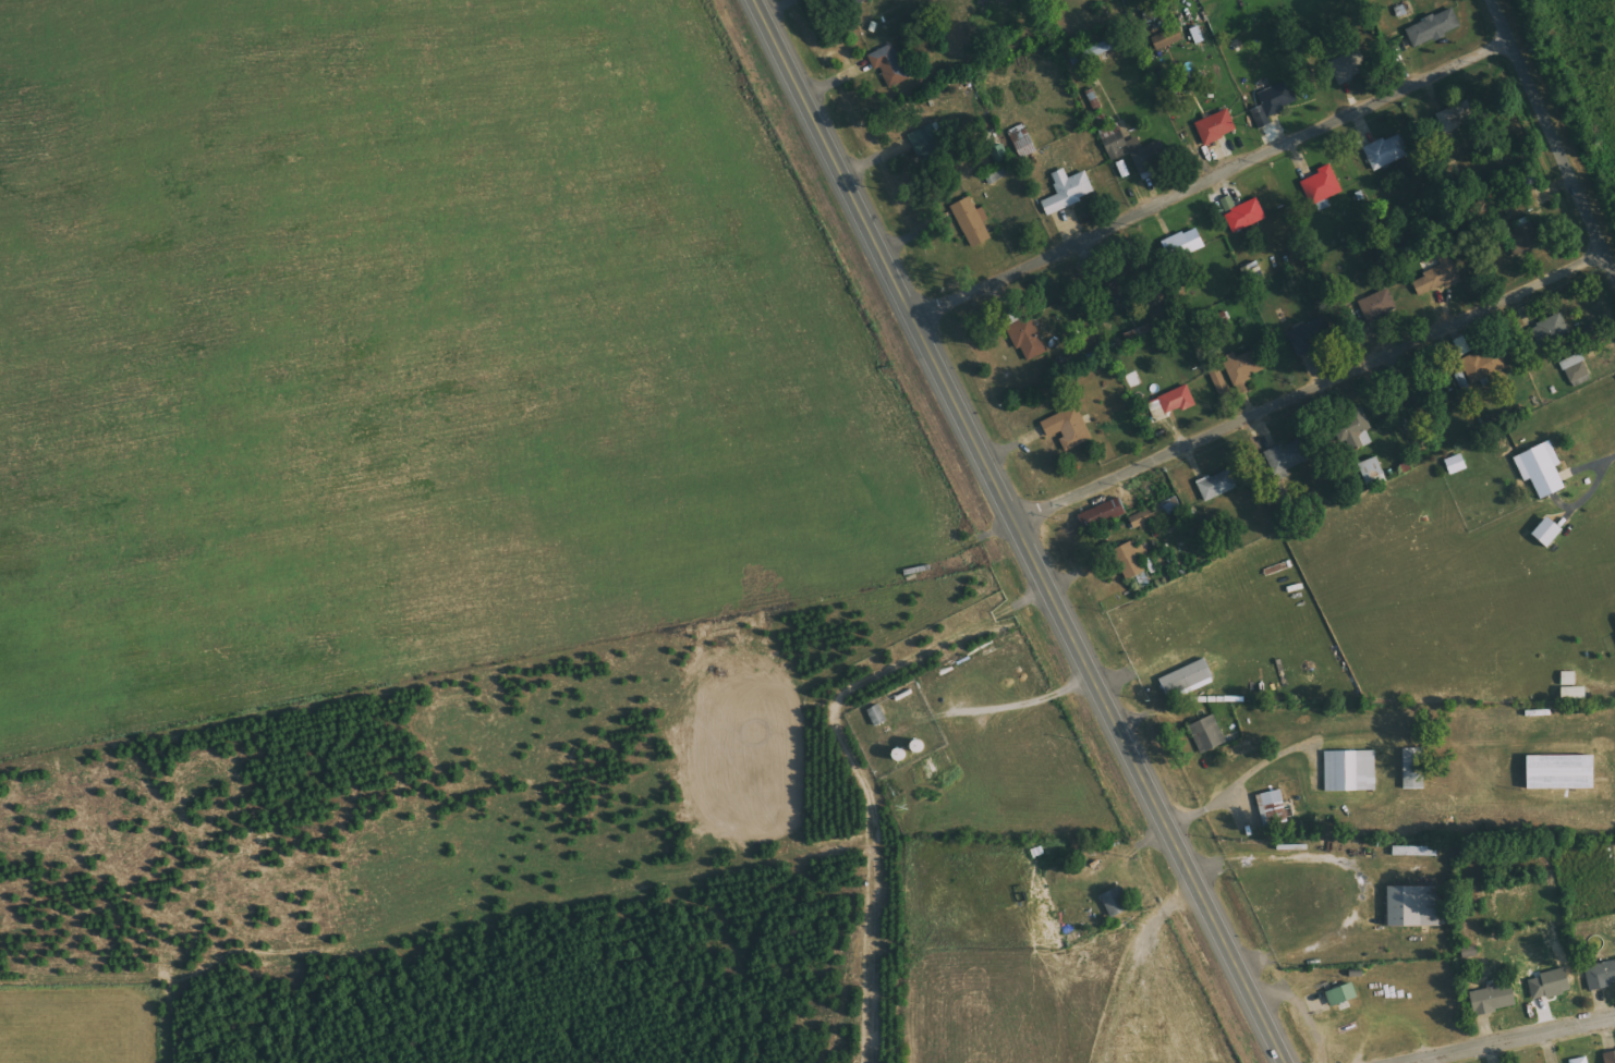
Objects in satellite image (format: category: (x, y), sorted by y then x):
building: (852, 2)
building: (1434, 27)
building: (1095, 51)
building: (889, 66)
building: (1349, 66)
building: (1275, 102)
building: (1217, 127)
road: (1553, 135)
building: (926, 143)
building: (1128, 148)
building: (1388, 151)
road: (1212, 178)
building: (1323, 185)
building: (1069, 191)
building: (1244, 213)
building: (973, 223)
building: (1522, 239)
building: (1186, 244)
building: (1438, 277)
building: (1379, 306)
building: (1547, 331)
building: (1310, 337)
building: (1029, 339)
building: (1246, 366)
building: (1476, 368)
building: (1576, 368)
road: (1311, 388)
building: (1178, 400)
building: (1157, 411)
building: (1069, 427)
building: (1360, 430)
building: (1289, 455)
building: (1457, 464)
building: (1543, 469)
building: (1218, 485)
building: (1104, 514)
building: (1145, 517)
road: (1020, 531)
building: (1551, 533)
building: (1130, 560)
building: (1187, 677)
building: (1570, 677)
building: (1575, 693)
building: (877, 714)
building: (1207, 734)
building: (1241, 747)
building: (1414, 768)
building: (1351, 770)
building: (1565, 771)
building: (1274, 807)
building: (1413, 851)
building: (1116, 902)
building: (1416, 905)
building: (1601, 975)
building: (1551, 985)
building: (1343, 994)
building: (1495, 998)
road: (1511, 1040)
building: (1610, 1058)
building: (1581, 1060)

